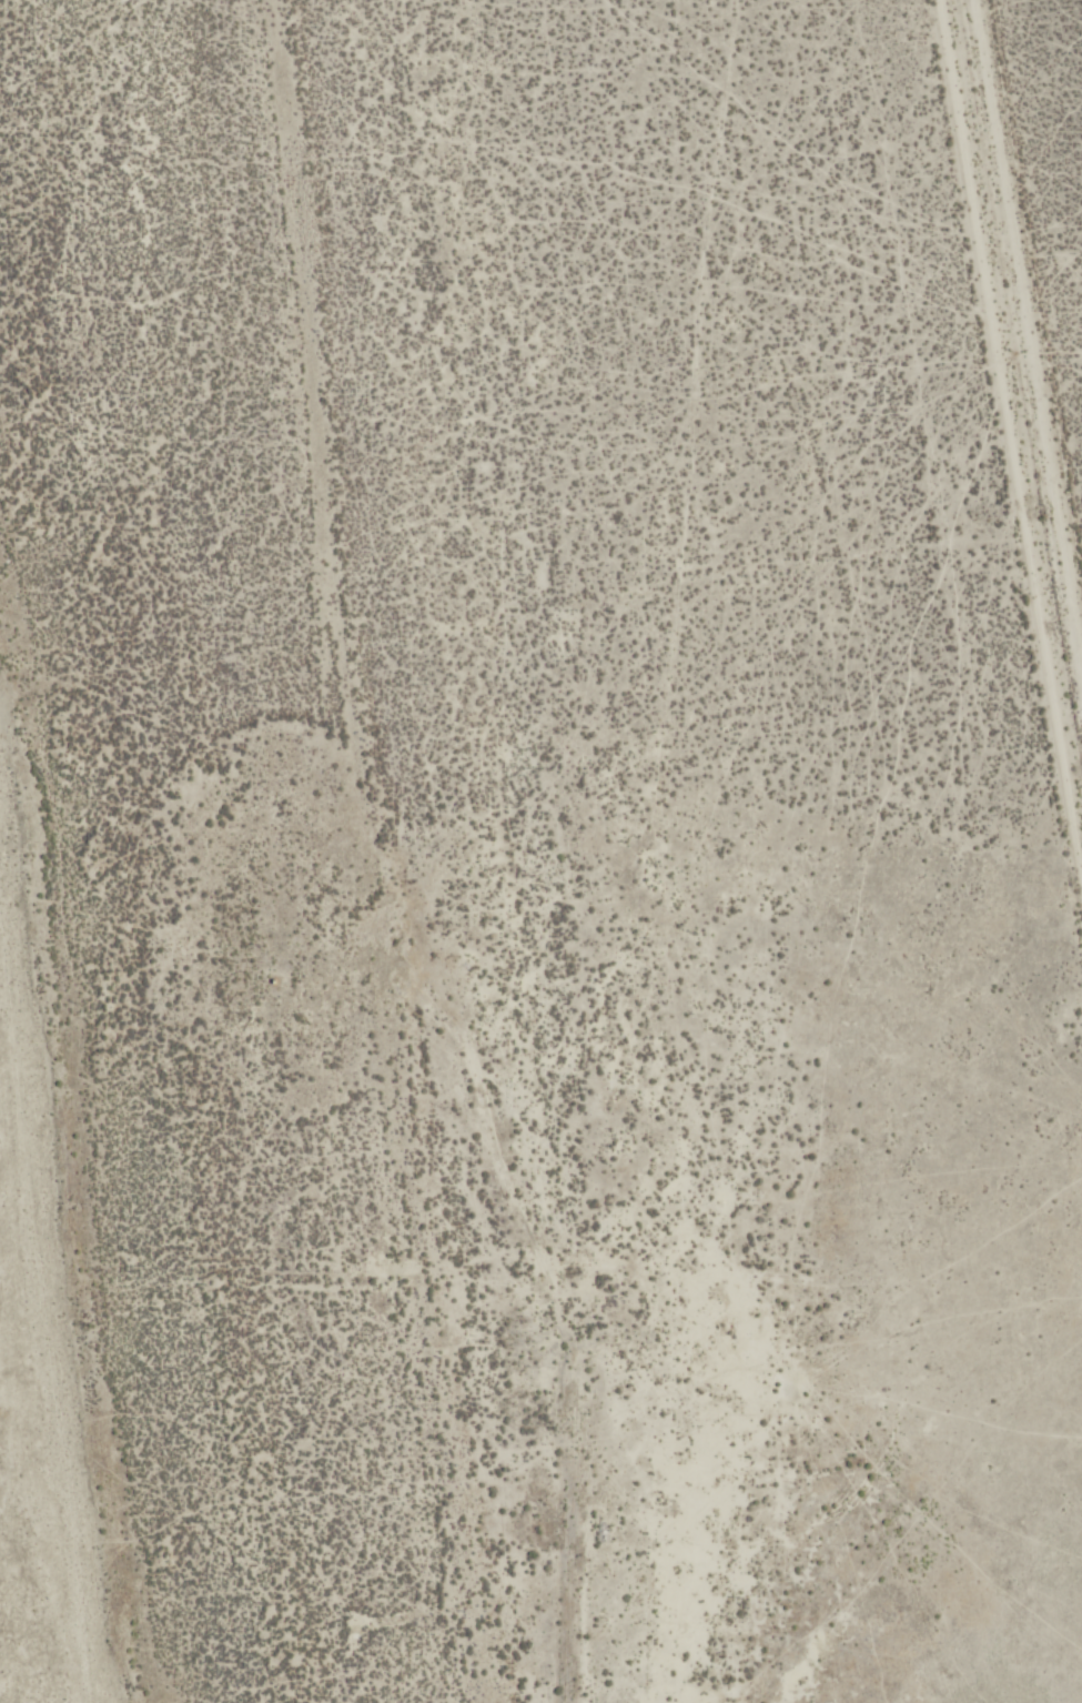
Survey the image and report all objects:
airport: (1042, 242)
road: (1022, 364)

